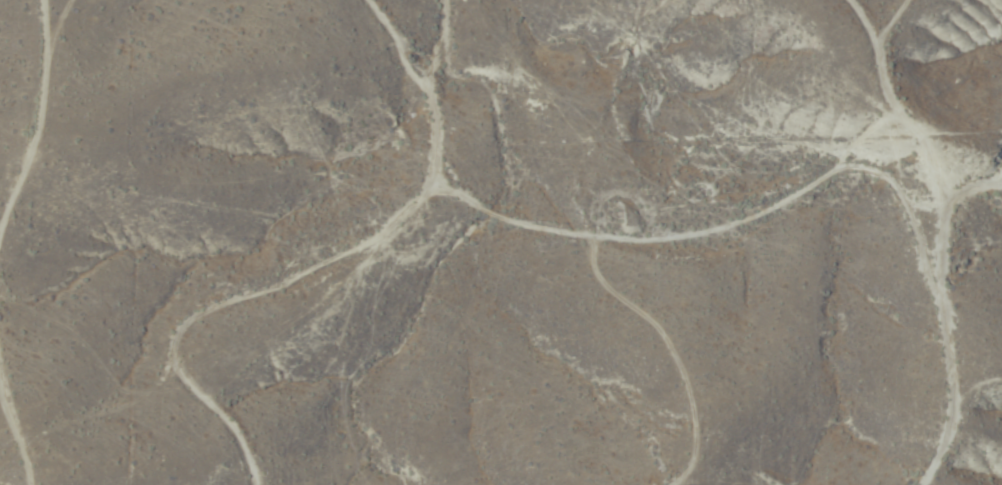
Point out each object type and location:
road: (663, 237)
road: (898, 241)

